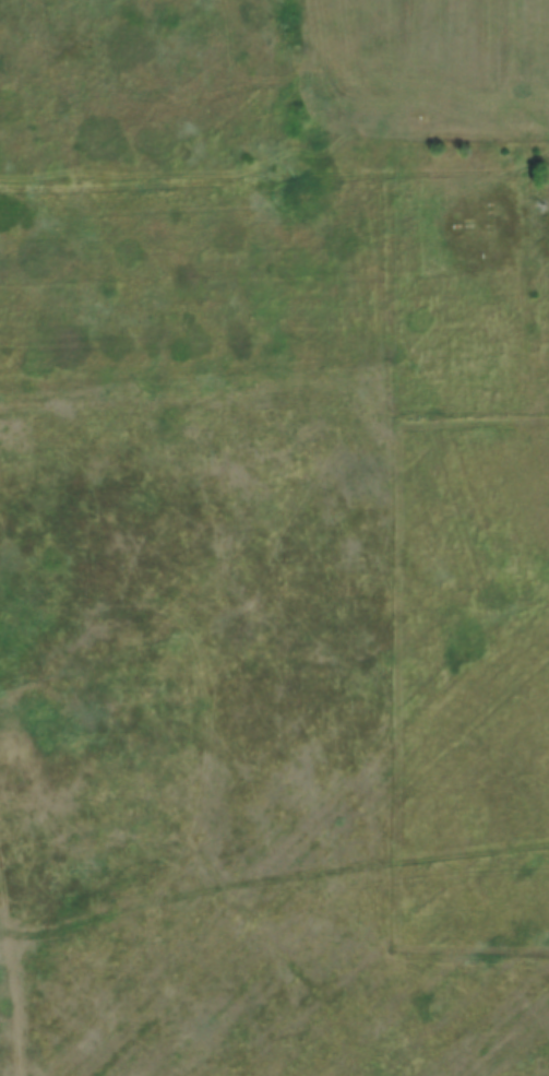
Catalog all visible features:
road: (0, 1051)

